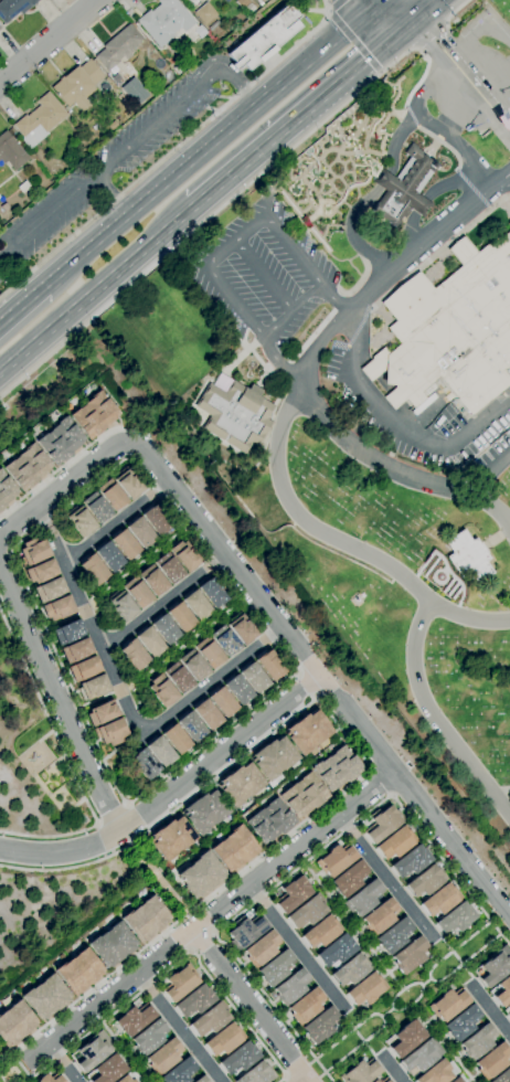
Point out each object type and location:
building: (226, 1)
building: (242, 2)
road: (336, 3)
road: (366, 3)
road: (375, 3)
building: (13, 8)
road: (325, 9)
road: (426, 9)
road: (455, 11)
road: (393, 12)
building: (204, 13)
road: (325, 13)
building: (164, 21)
building: (0, 29)
road: (429, 35)
building: (265, 40)
road: (49, 41)
road: (355, 43)
building: (118, 47)
road: (453, 51)
building: (177, 68)
road: (461, 75)
building: (115, 78)
building: (77, 85)
road: (470, 95)
road: (177, 103)
road: (301, 110)
building: (39, 120)
building: (113, 125)
road: (457, 144)
road: (208, 146)
road: (290, 148)
building: (11, 151)
road: (168, 152)
parking lot: (113, 166)
road: (502, 184)
building: (23, 187)
building: (404, 188)
road: (428, 194)
road: (370, 195)
road: (111, 197)
building: (4, 206)
road: (49, 216)
road: (222, 252)
parking lot: (269, 269)
road: (263, 276)
road: (96, 288)
road: (22, 308)
road: (290, 310)
road: (84, 325)
building: (451, 330)
park: (368, 385)
building: (235, 413)
building: (93, 415)
road: (421, 415)
road: (283, 424)
road: (394, 426)
building: (60, 441)
building: (26, 467)
road: (395, 470)
road: (51, 475)
road: (491, 475)
building: (129, 484)
road: (149, 485)
road: (65, 489)
building: (6, 490)
building: (110, 495)
building: (95, 508)
building: (156, 519)
building: (79, 521)
road: (116, 522)
building: (140, 532)
building: (124, 544)
building: (32, 552)
building: (184, 555)
building: (108, 556)
building: (467, 556)
building: (168, 567)
building: (93, 570)
building: (41, 572)
building: (152, 581)
building: (50, 590)
building: (136, 592)
building: (213, 592)
road: (162, 601)
building: (196, 605)
building: (57, 607)
building: (121, 607)
building: (181, 617)
building: (166, 629)
building: (242, 629)
building: (67, 632)
building: (225, 640)
building: (150, 641)
building: (75, 650)
building: (209, 653)
building: (134, 655)
building: (193, 665)
building: (270, 666)
building: (84, 669)
road: (320, 676)
building: (178, 678)
building: (254, 678)
road: (304, 686)
building: (94, 687)
building: (237, 690)
building: (162, 691)
road: (61, 699)
building: (222, 702)
road: (126, 704)
building: (102, 712)
building: (208, 714)
road: (434, 721)
building: (191, 725)
building: (111, 731)
building: (307, 731)
building: (176, 739)
building: (160, 751)
building: (274, 757)
road: (68, 762)
building: (144, 764)
building: (337, 768)
park: (51, 771)
building: (241, 784)
road: (379, 784)
road: (170, 791)
road: (502, 792)
building: (302, 795)
building: (205, 811)
road: (171, 813)
building: (270, 821)
building: (381, 824)
building: (172, 838)
building: (395, 842)
building: (234, 848)
building: (336, 859)
building: (411, 861)
road: (302, 867)
building: (201, 874)
road: (387, 877)
building: (350, 878)
building: (426, 881)
road: (211, 894)
building: (293, 894)
building: (364, 898)
building: (440, 900)
building: (307, 911)
road: (209, 914)
building: (380, 916)
road: (205, 917)
building: (146, 919)
building: (455, 919)
road: (355, 926)
building: (246, 931)
building: (322, 932)
building: (394, 935)
road: (177, 941)
road: (204, 944)
building: (111, 945)
road: (297, 946)
building: (262, 948)
building: (337, 951)
building: (411, 955)
road: (466, 962)
road: (177, 963)
building: (276, 967)
building: (493, 967)
road: (465, 968)
building: (351, 969)
building: (78, 972)
road: (460, 977)
building: (180, 983)
building: (291, 987)
building: (366, 989)
road: (403, 989)
building: (501, 991)
park: (408, 995)
building: (45, 997)
building: (194, 1001)
road: (413, 1004)
building: (448, 1004)
road: (249, 1005)
building: (307, 1006)
road: (490, 1009)
building: (508, 1011)
building: (135, 1019)
building: (210, 1019)
building: (463, 1022)
building: (15, 1023)
building: (320, 1025)
road: (182, 1027)
building: (149, 1037)
building: (406, 1038)
building: (224, 1040)
road: (444, 1042)
building: (478, 1042)
road: (359, 1046)
road: (368, 1047)
road: (131, 1050)
building: (92, 1051)
building: (422, 1054)
building: (164, 1056)
building: (238, 1059)
building: (492, 1061)
road: (62, 1062)
road: (392, 1068)
building: (107, 1070)
building: (180, 1071)
building: (361, 1072)
building: (256, 1073)
building: (435, 1073)
building: (502, 1076)
building: (51, 1079)
building: (125, 1079)
building: (202, 1079)
road: (284, 1080)
road: (305, 1080)
building: (385, 1080)
building: (457, 1080)
building: (375, 1081)

